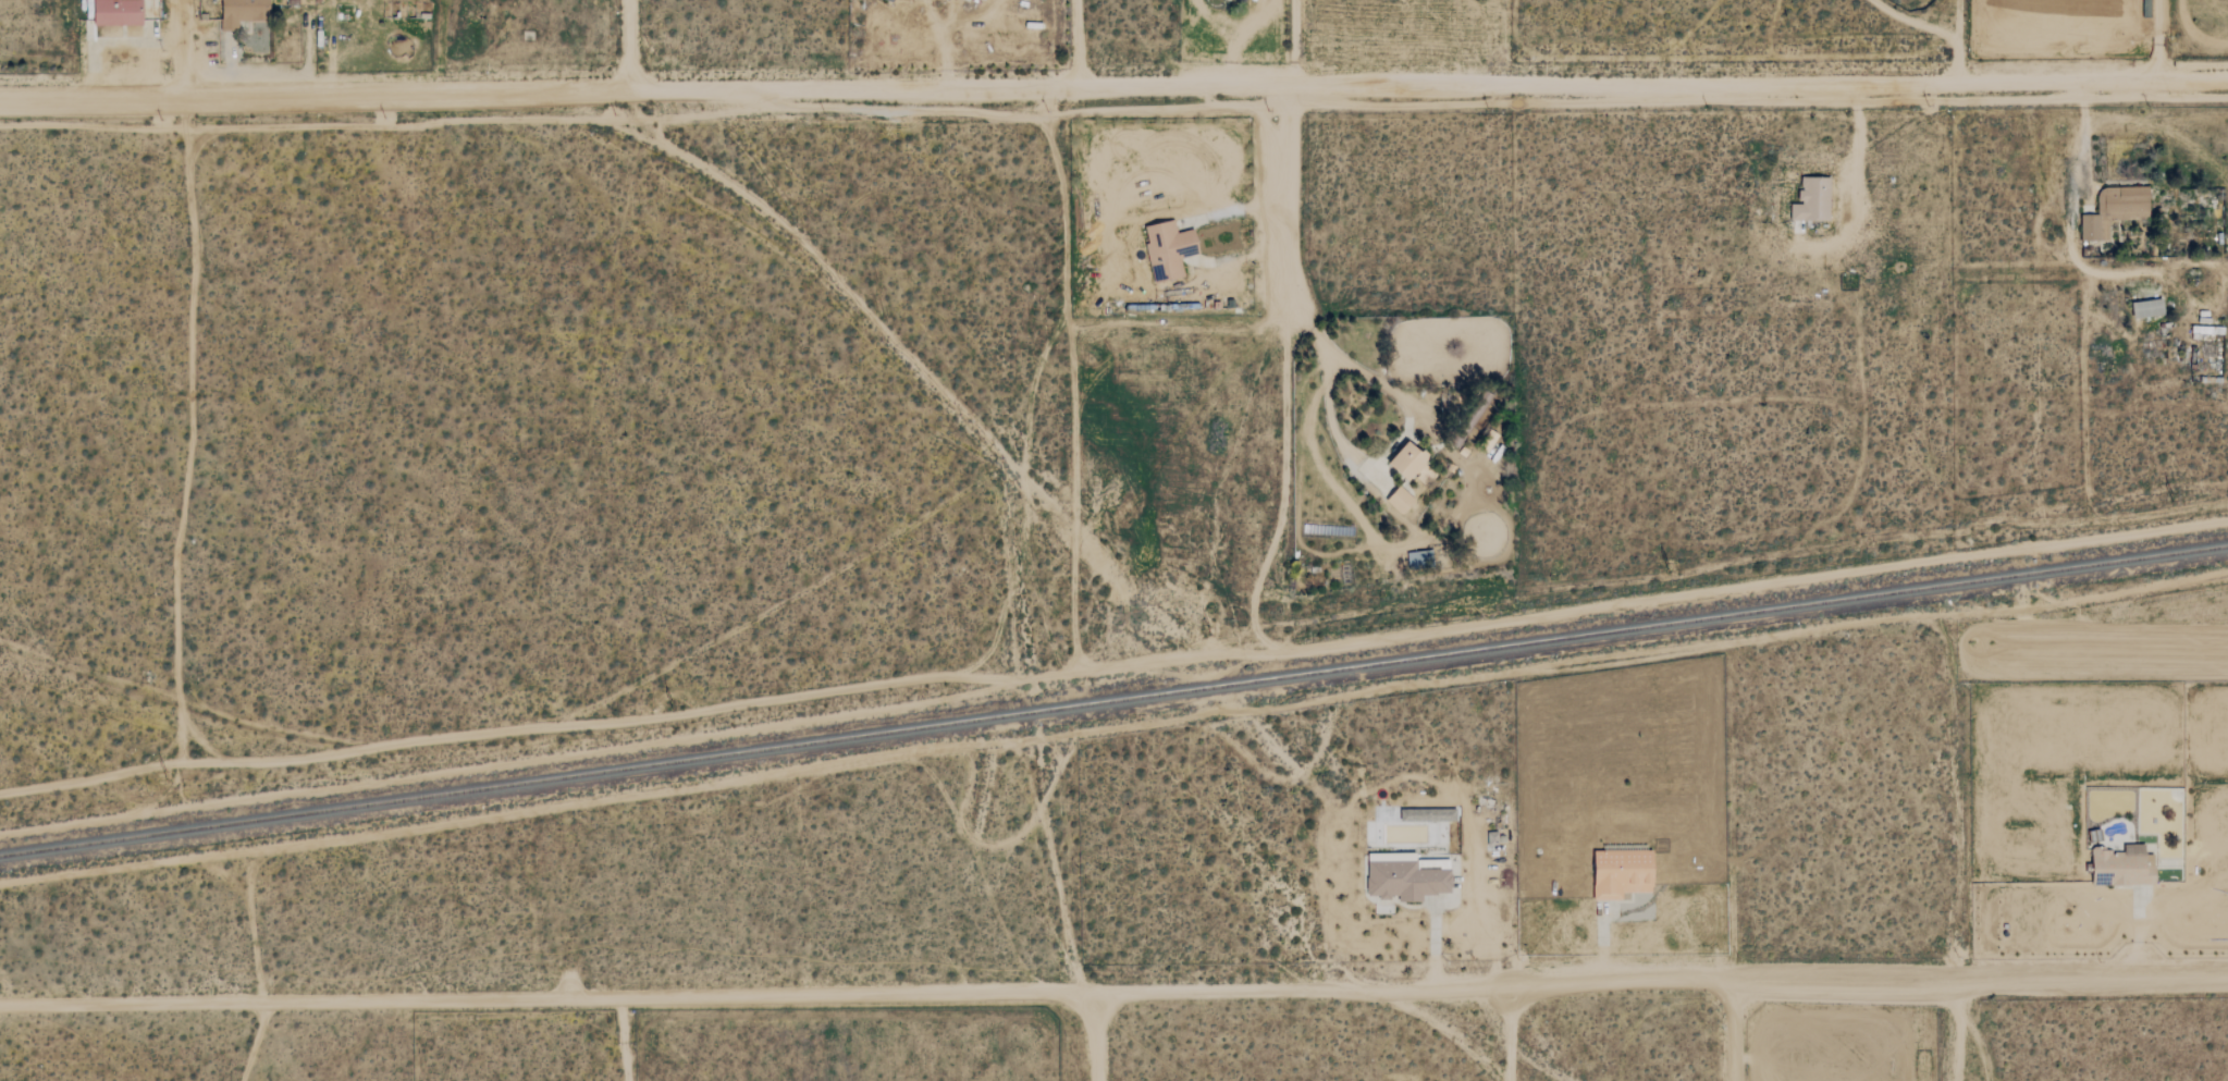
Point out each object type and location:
building: (119, 12)
building: (244, 12)
road: (1915, 20)
road: (948, 30)
road: (2156, 38)
road: (1958, 39)
road: (112, 42)
road: (631, 44)
road: (1074, 44)
road: (1291, 44)
road: (181, 48)
road: (1113, 88)
road: (2146, 123)
road: (1856, 140)
building: (1814, 200)
building: (2116, 210)
road: (1182, 241)
building: (1170, 250)
road: (2169, 269)
building: (2150, 309)
road: (1284, 331)
road: (1408, 421)
building: (1411, 462)
power tower: (2170, 497)
building: (1402, 501)
building: (1420, 560)
power tower: (1665, 565)
power tower: (1205, 631)
railway: (1113, 699)
power tower: (670, 702)
power tower: (168, 778)
building: (1491, 839)
building: (2126, 867)
building: (1624, 872)
building: (1407, 876)
road: (2137, 936)
road: (1601, 944)
road: (1433, 946)
road: (1113, 997)
road: (1734, 1030)
road: (1955, 1031)
road: (1094, 1040)
road: (623, 1041)
road: (255, 1042)

